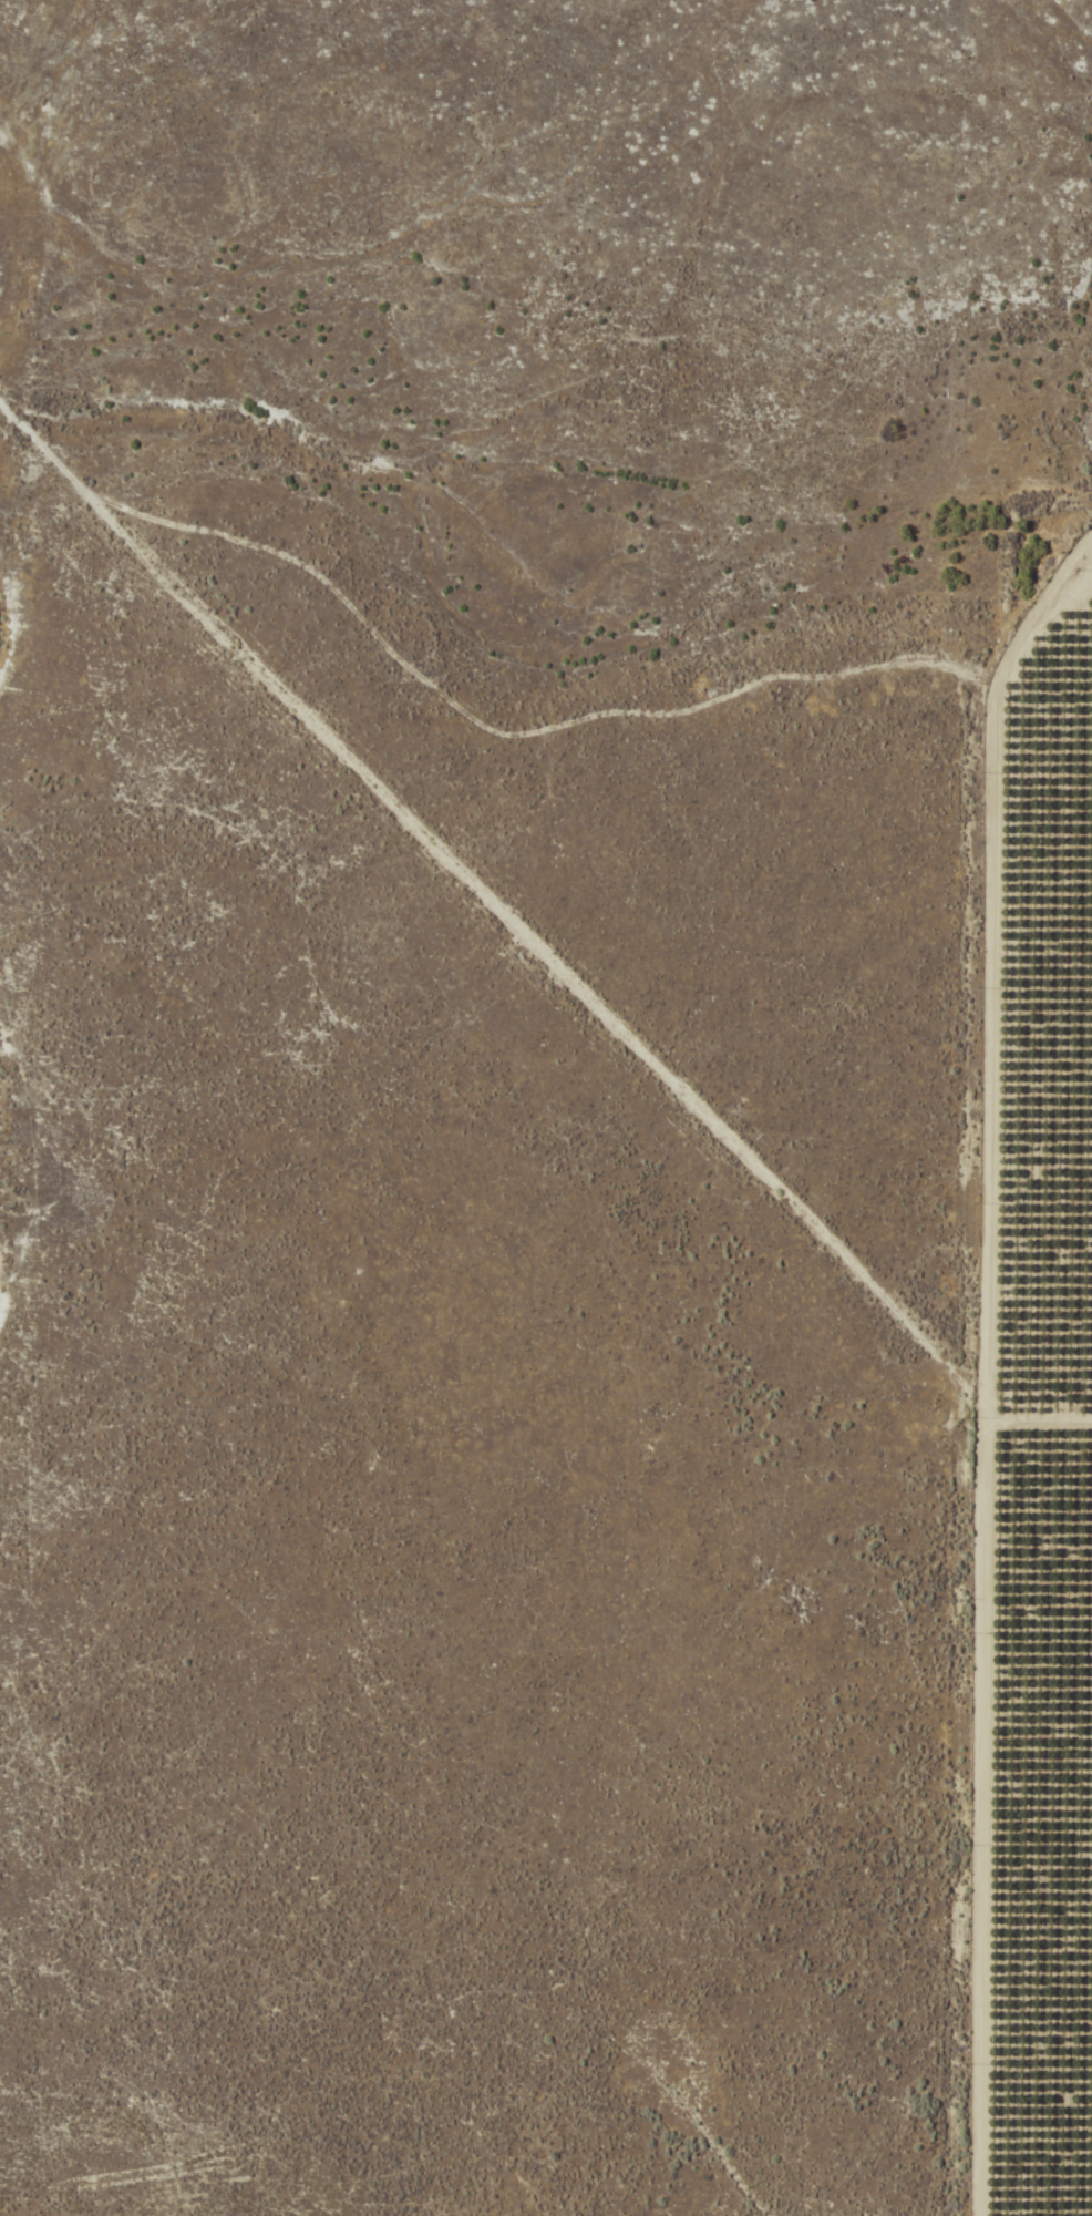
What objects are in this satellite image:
road: (967, 1320)
road: (1030, 1385)

